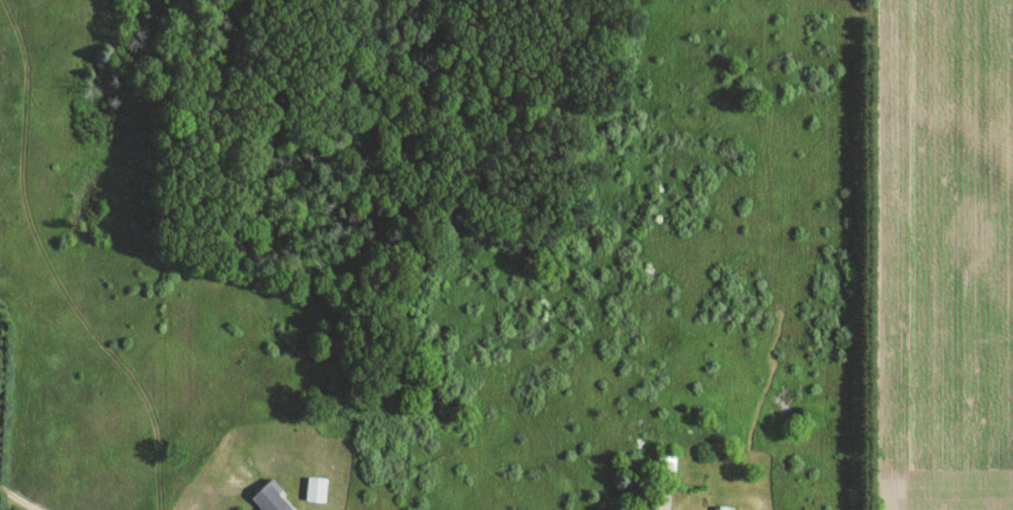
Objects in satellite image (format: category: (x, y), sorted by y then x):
road: (47, 266)
building: (665, 470)
building: (315, 491)
building: (269, 498)
road: (17, 499)
building: (720, 509)

